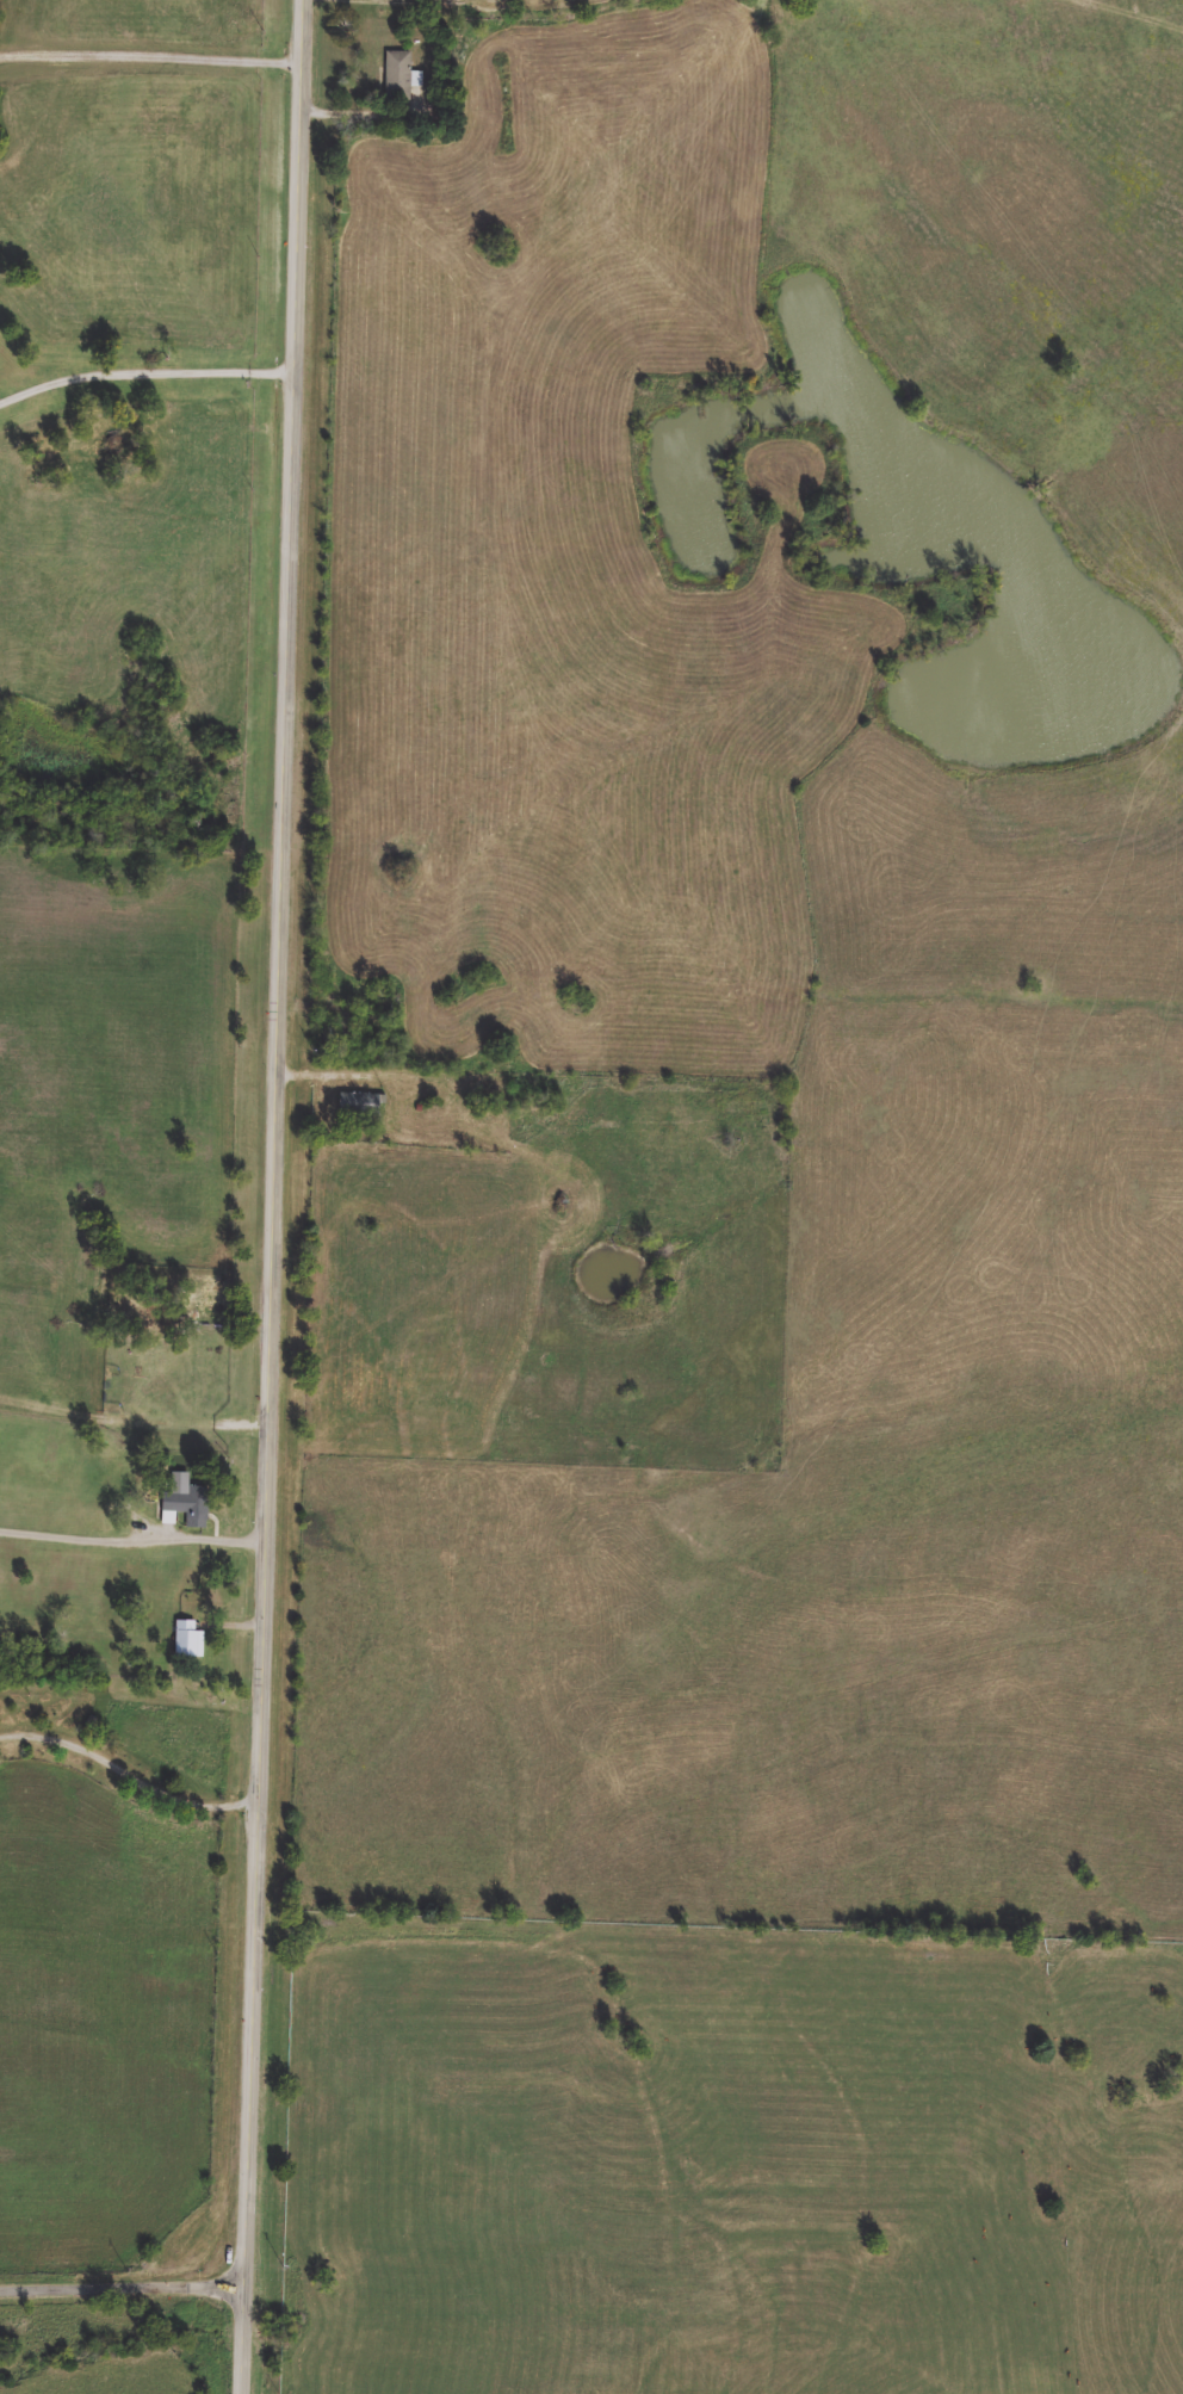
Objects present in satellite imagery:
road: (149, 57)
building: (400, 78)
road: (352, 106)
road: (143, 372)
building: (76, 460)
road: (322, 1070)
building: (363, 1103)
road: (267, 1196)
building: (162, 1319)
building: (190, 1505)
road: (131, 1545)
building: (190, 1641)
road: (130, 1763)
road: (126, 2285)

